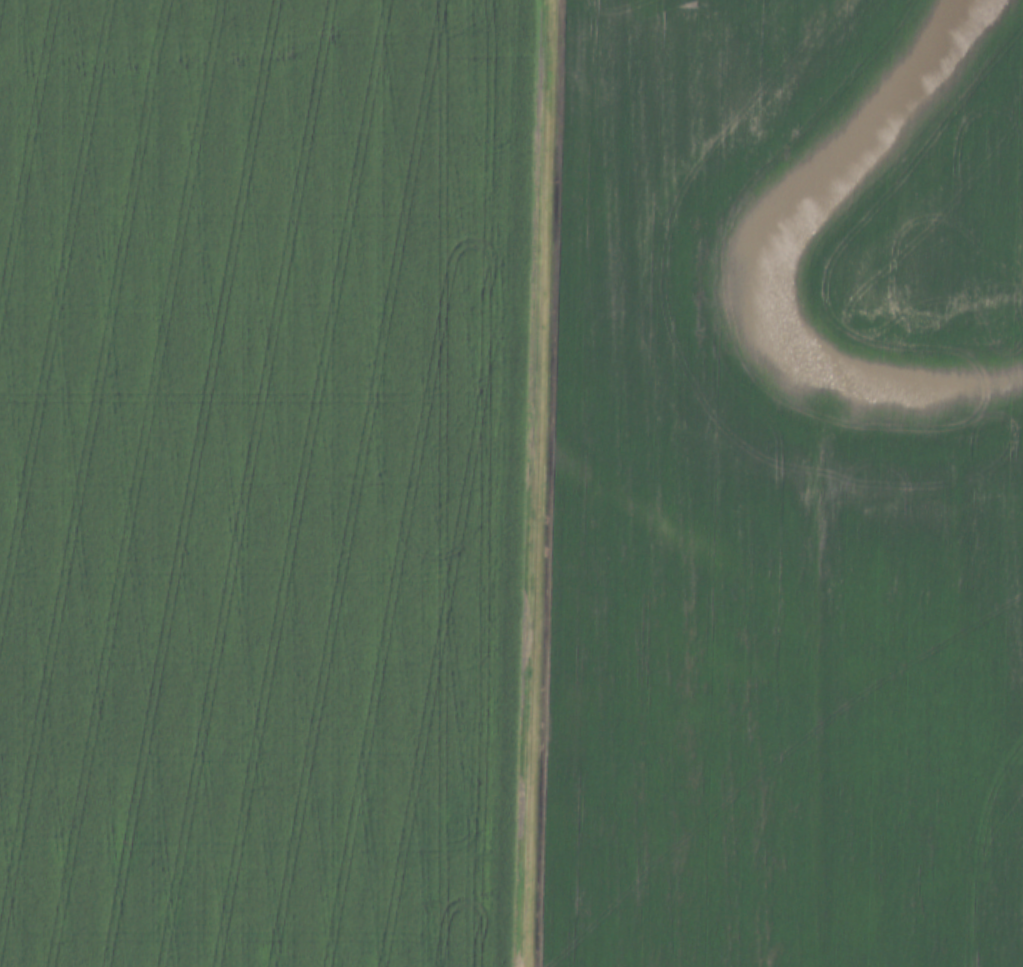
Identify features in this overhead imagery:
crop: (260, 479)
road: (530, 483)
crop: (786, 487)

